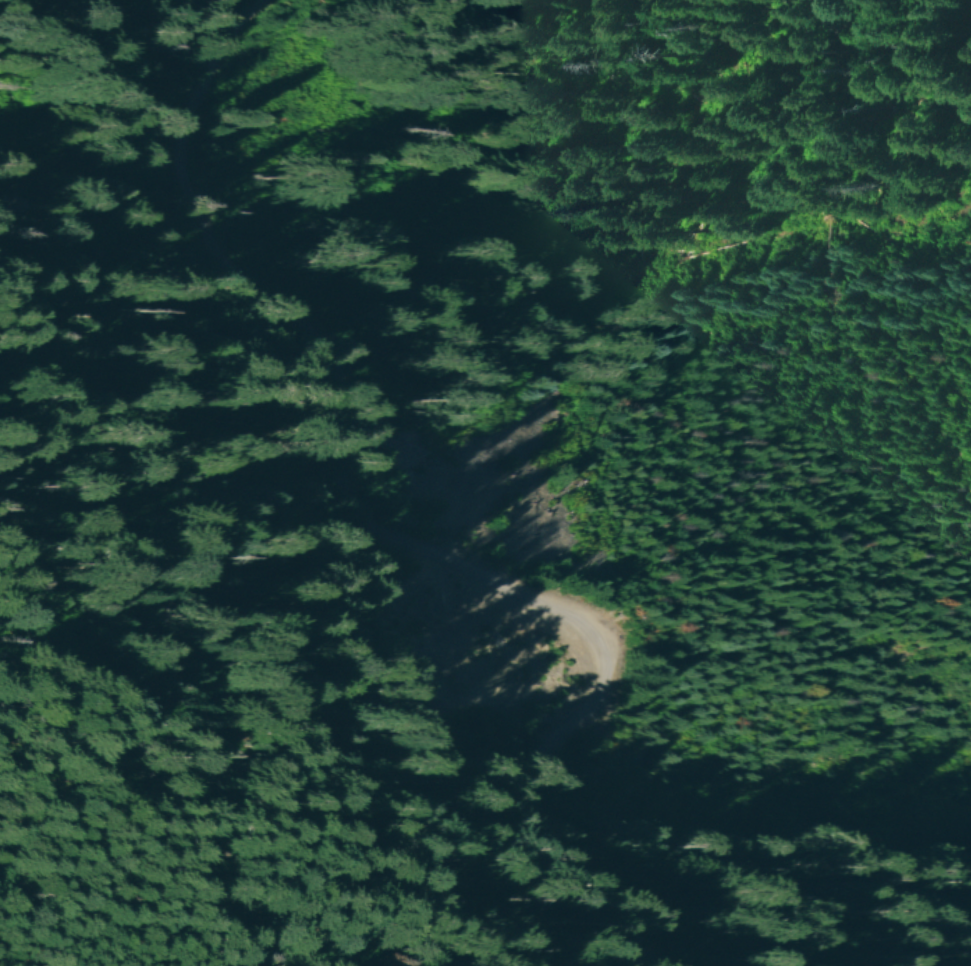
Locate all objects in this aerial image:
road: (377, 535)
road: (119, 839)

